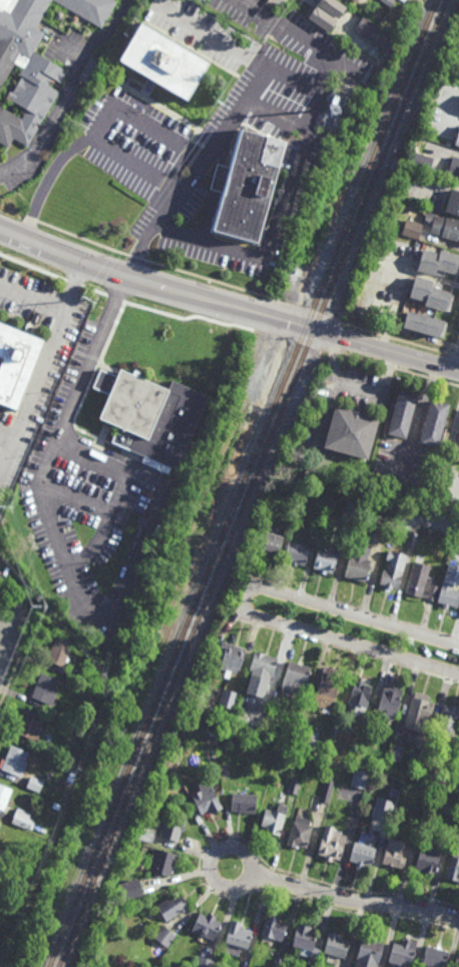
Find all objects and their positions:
building: (402, 0)
building: (354, 1)
building: (387, 2)
building: (332, 7)
building: (89, 9)
building: (321, 19)
building: (458, 28)
building: (376, 34)
road: (301, 38)
road: (224, 45)
building: (161, 63)
building: (24, 69)
building: (90, 72)
road: (309, 89)
road: (67, 90)
railway: (412, 106)
building: (333, 107)
power tower: (223, 109)
road: (138, 123)
building: (457, 140)
road: (120, 157)
road: (304, 157)
building: (420, 162)
building: (454, 169)
building: (242, 187)
building: (452, 204)
building: (445, 229)
building: (410, 230)
road: (34, 231)
road: (83, 240)
road: (139, 259)
building: (437, 264)
road: (153, 283)
building: (428, 296)
road: (31, 298)
power tower: (92, 304)
road: (298, 307)
building: (422, 327)
road: (287, 329)
road: (48, 347)
road: (384, 349)
road: (453, 355)
road: (90, 357)
road: (371, 362)
building: (16, 364)
road: (458, 368)
road: (83, 399)
building: (400, 411)
building: (150, 415)
road: (418, 417)
building: (432, 420)
building: (349, 426)
building: (458, 426)
road: (6, 431)
building: (456, 448)
road: (6, 449)
road: (449, 452)
railway: (243, 483)
railway: (250, 483)
road: (40, 488)
road: (74, 498)
road: (114, 503)
building: (350, 507)
building: (319, 508)
power tower: (9, 511)
building: (142, 518)
building: (381, 525)
building: (425, 530)
building: (410, 538)
building: (268, 541)
road: (47, 542)
building: (294, 551)
road: (27, 558)
building: (324, 558)
building: (356, 567)
building: (0, 571)
building: (0, 572)
road: (128, 572)
building: (390, 573)
building: (420, 581)
building: (448, 594)
road: (12, 596)
road: (245, 602)
power tower: (41, 608)
road: (354, 608)
road: (2, 616)
road: (2, 623)
road: (18, 623)
road: (16, 630)
road: (7, 631)
road: (11, 648)
building: (58, 650)
road: (345, 650)
road: (22, 653)
building: (230, 657)
building: (261, 662)
building: (78, 676)
building: (294, 676)
building: (76, 687)
building: (44, 688)
building: (326, 688)
building: (359, 695)
building: (226, 698)
building: (265, 698)
building: (274, 702)
building: (386, 705)
building: (417, 712)
building: (447, 721)
building: (29, 725)
building: (49, 727)
building: (334, 729)
building: (305, 736)
building: (413, 740)
building: (333, 744)
building: (396, 753)
building: (425, 754)
building: (13, 760)
building: (458, 767)
building: (71, 769)
building: (224, 769)
building: (359, 778)
building: (177, 781)
building: (34, 784)
building: (293, 787)
building: (326, 788)
building: (3, 795)
building: (206, 801)
building: (390, 801)
building: (241, 802)
building: (450, 805)
building: (55, 806)
building: (387, 812)
building: (21, 819)
building: (272, 819)
building: (453, 819)
building: (419, 821)
building: (4, 825)
building: (172, 828)
building: (298, 832)
building: (145, 834)
building: (331, 843)
road: (237, 848)
building: (394, 854)
building: (132, 855)
building: (361, 855)
building: (428, 859)
building: (19, 861)
road: (199, 861)
building: (162, 864)
building: (453, 867)
building: (129, 890)
road: (353, 900)
building: (171, 907)
building: (13, 923)
building: (205, 926)
building: (272, 929)
building: (236, 935)
building: (164, 937)
building: (305, 942)
building: (3, 943)
building: (335, 946)
building: (368, 953)
building: (402, 954)
building: (433, 957)
building: (203, 962)
building: (277, 962)
building: (457, 962)

